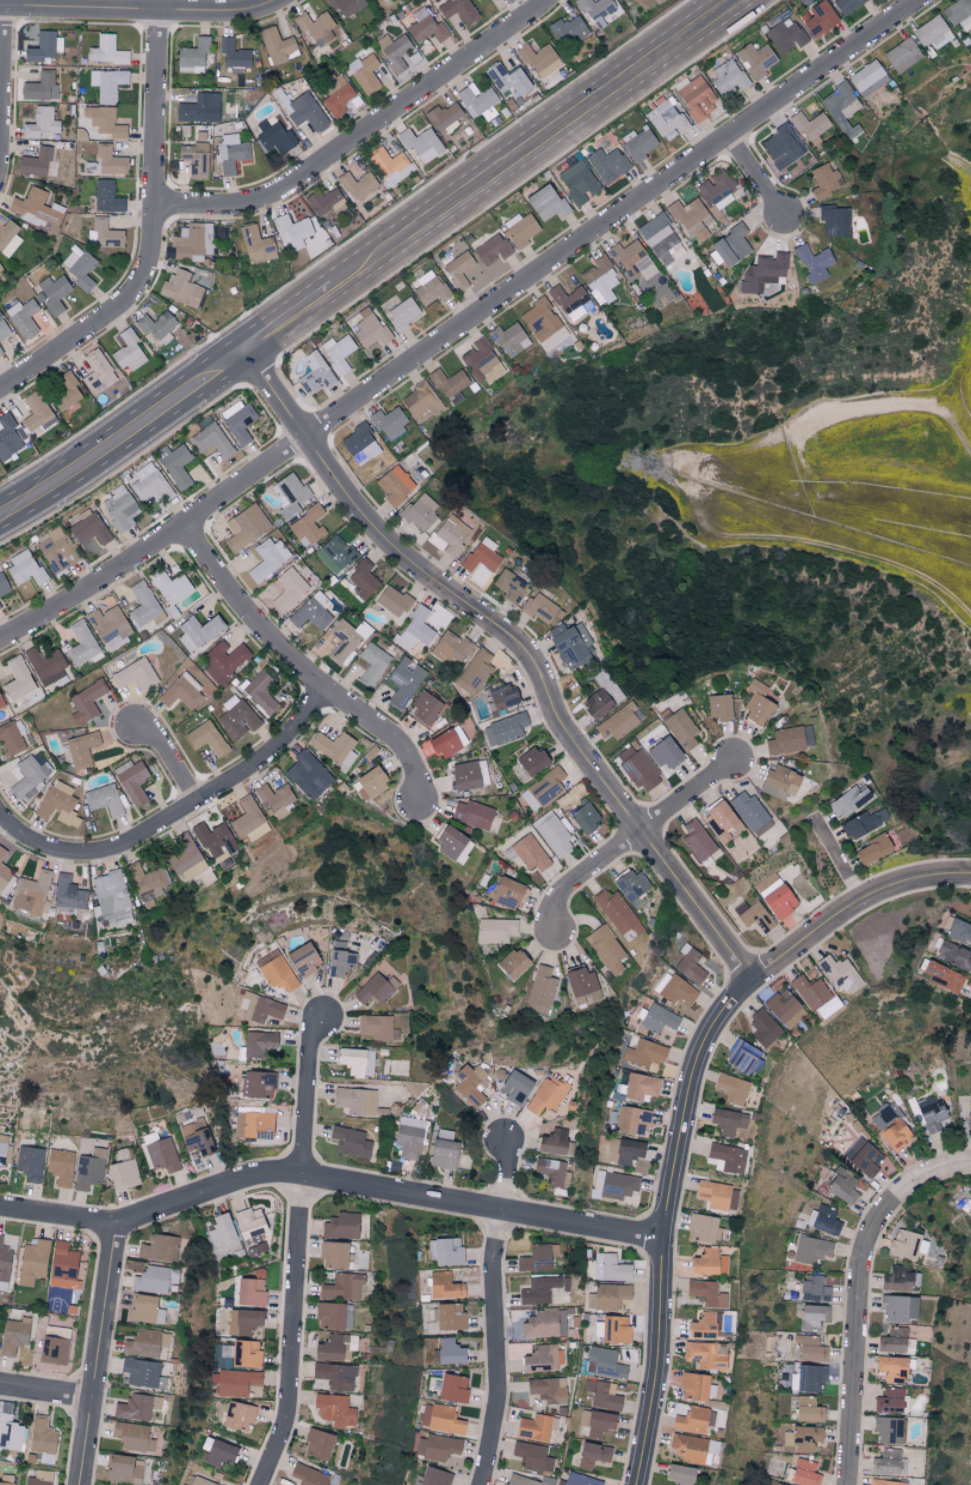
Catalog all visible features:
building: (384, 0)
building: (477, 0)
road: (3, 3)
building: (643, 3)
building: (847, 5)
building: (345, 6)
road: (139, 10)
building: (458, 10)
building: (596, 11)
building: (958, 13)
building: (819, 19)
building: (426, 27)
building: (316, 28)
building: (568, 30)
building: (932, 32)
building: (785, 35)
building: (278, 46)
building: (43, 47)
building: (106, 51)
building: (394, 51)
building: (902, 55)
building: (193, 56)
building: (234, 56)
building: (756, 59)
building: (539, 60)
road: (1, 65)
building: (365, 74)
building: (728, 78)
building: (868, 78)
building: (507, 79)
building: (108, 84)
building: (41, 87)
building: (336, 93)
building: (696, 98)
building: (476, 100)
building: (842, 102)
building: (199, 109)
building: (307, 112)
building: (443, 116)
building: (665, 118)
building: (104, 121)
building: (40, 123)
building: (810, 127)
road: (358, 132)
building: (274, 136)
building: (638, 143)
building: (421, 144)
road: (537, 145)
building: (782, 148)
building: (231, 153)
building: (195, 159)
building: (109, 161)
building: (35, 162)
building: (388, 163)
building: (608, 165)
road: (755, 174)
building: (824, 181)
building: (578, 182)
building: (357, 185)
building: (716, 190)
building: (106, 197)
building: (326, 201)
building: (546, 203)
building: (35, 208)
building: (692, 220)
building: (834, 221)
road: (152, 229)
building: (520, 229)
building: (292, 230)
building: (8, 237)
building: (316, 237)
building: (658, 238)
building: (256, 244)
building: (731, 246)
building: (492, 249)
building: (632, 261)
building: (813, 263)
building: (0, 268)
building: (80, 268)
building: (458, 269)
building: (600, 280)
building: (182, 288)
building: (53, 292)
building: (571, 301)
building: (403, 313)
building: (23, 317)
building: (539, 319)
road: (288, 323)
building: (156, 324)
road: (461, 324)
building: (370, 328)
building: (3, 329)
building: (509, 338)
building: (554, 339)
building: (0, 351)
building: (129, 351)
building: (338, 352)
building: (481, 361)
building: (96, 367)
building: (315, 373)
building: (449, 384)
building: (66, 390)
building: (420, 401)
building: (36, 412)
building: (238, 420)
building: (389, 421)
building: (9, 435)
road: (123, 439)
building: (212, 440)
building: (360, 444)
building: (176, 464)
building: (395, 485)
building: (151, 486)
building: (290, 494)
building: (119, 507)
building: (420, 511)
building: (246, 526)
building: (307, 526)
building: (89, 529)
building: (451, 535)
building: (56, 549)
building: (335, 554)
building: (482, 555)
building: (268, 558)
building: (26, 569)
building: (362, 579)
road: (465, 584)
building: (3, 585)
building: (510, 585)
building: (170, 586)
building: (289, 589)
building: (393, 601)
building: (143, 604)
building: (0, 607)
building: (538, 607)
building: (312, 611)
building: (109, 627)
building: (415, 629)
building: (197, 631)
building: (346, 640)
building: (82, 644)
building: (572, 646)
building: (451, 647)
road: (517, 648)
building: (224, 660)
building: (372, 663)
building: (46, 665)
road: (301, 669)
building: (474, 671)
building: (135, 674)
building: (18, 679)
building: (404, 681)
building: (260, 691)
building: (181, 692)
building: (501, 698)
building: (86, 702)
building: (596, 703)
building: (1, 704)
building: (757, 704)
building: (719, 706)
building: (424, 708)
building: (237, 717)
building: (620, 721)
building: (504, 729)
building: (681, 729)
building: (12, 736)
building: (205, 737)
building: (789, 739)
building: (444, 743)
building: (334, 747)
building: (81, 748)
building: (665, 753)
building: (532, 760)
road: (171, 761)
building: (638, 767)
building: (30, 775)
building: (308, 775)
building: (464, 775)
building: (132, 780)
building: (779, 781)
building: (370, 782)
building: (543, 789)
building: (104, 799)
building: (275, 799)
building: (849, 800)
building: (58, 803)
building: (750, 812)
road: (170, 814)
building: (472, 814)
building: (246, 816)
building: (585, 817)
building: (719, 820)
building: (864, 822)
building: (553, 834)
road: (630, 836)
building: (697, 840)
building: (215, 841)
building: (449, 841)
building: (873, 848)
building: (463, 851)
building: (2, 853)
building: (530, 853)
building: (185, 857)
road: (838, 860)
building: (4, 875)
building: (146, 885)
building: (30, 892)
building: (506, 892)
building: (68, 893)
building: (110, 893)
building: (779, 901)
building: (617, 913)
building: (753, 915)
building: (496, 930)
building: (959, 931)
building: (606, 948)
building: (953, 954)
building: (340, 959)
building: (303, 960)
building: (512, 963)
building: (690, 964)
building: (276, 971)
building: (840, 974)
building: (942, 976)
building: (581, 984)
building: (375, 989)
building: (541, 990)
building: (810, 991)
building: (260, 1008)
building: (784, 1008)
building: (658, 1018)
building: (377, 1027)
building: (763, 1027)
building: (258, 1042)
building: (644, 1053)
building: (741, 1056)
building: (357, 1061)
building: (258, 1084)
building: (469, 1084)
building: (515, 1086)
building: (641, 1086)
building: (732, 1088)
building: (547, 1095)
road: (689, 1098)
building: (355, 1100)
building: (969, 1110)
building: (931, 1114)
building: (633, 1121)
building: (727, 1121)
building: (253, 1125)
building: (891, 1126)
building: (196, 1137)
building: (410, 1137)
building: (350, 1141)
building: (552, 1142)
building: (625, 1151)
building: (120, 1153)
building: (161, 1153)
building: (2, 1154)
building: (443, 1154)
building: (864, 1157)
building: (726, 1158)
building: (29, 1162)
building: (60, 1166)
building: (89, 1169)
road: (911, 1169)
building: (553, 1172)
building: (123, 1174)
road: (331, 1179)
building: (615, 1184)
building: (840, 1185)
building: (717, 1196)
building: (970, 1214)
building: (825, 1220)
building: (341, 1226)
building: (704, 1228)
building: (250, 1231)
building: (222, 1236)
building: (906, 1245)
building: (158, 1248)
building: (811, 1249)
road: (297, 1250)
building: (445, 1251)
building: (333, 1255)
building: (537, 1258)
building: (33, 1260)
building: (708, 1263)
building: (4, 1265)
building: (62, 1266)
building: (610, 1268)
building: (151, 1279)
building: (896, 1279)
building: (444, 1286)
building: (342, 1287)
building: (251, 1288)
building: (813, 1288)
building: (540, 1289)
building: (706, 1293)
building: (610, 1296)
building: (897, 1308)
building: (145, 1309)
road: (498, 1314)
building: (449, 1316)
building: (812, 1316)
building: (332, 1317)
building: (245, 1320)
building: (545, 1323)
building: (702, 1326)
building: (613, 1329)
building: (13, 1335)
building: (892, 1340)
building: (142, 1343)
building: (336, 1347)
building: (810, 1349)
building: (53, 1350)
building: (449, 1351)
road: (859, 1352)
building: (245, 1354)
road: (99, 1355)
building: (704, 1355)
building: (542, 1358)
building: (604, 1363)
building: (891, 1369)
building: (142, 1373)
building: (335, 1376)
building: (811, 1378)
building: (236, 1382)
building: (694, 1386)
building: (452, 1388)
building: (548, 1389)
road: (47, 1392)
building: (602, 1395)
building: (889, 1401)
building: (136, 1407)
building: (334, 1410)
building: (807, 1410)
building: (238, 1416)
building: (440, 1419)
building: (693, 1420)
building: (596, 1422)
building: (534, 1427)
building: (887, 1430)
building: (10, 1433)
building: (132, 1437)
building: (801, 1438)
building: (42, 1439)
building: (317, 1444)
building: (436, 1447)
building: (692, 1448)
building: (217, 1452)
building: (592, 1455)
building: (532, 1456)
building: (888, 1463)
building: (124, 1469)
building: (804, 1473)
building: (679, 1474)
building: (308, 1475)
building: (434, 1477)
building: (39, 1478)
building: (6, 1480)
building: (520, 1480)
building: (579, 1480)
building: (198, 1481)
building: (883, 1482)
building: (182, 1484)
building: (776, 1484)

